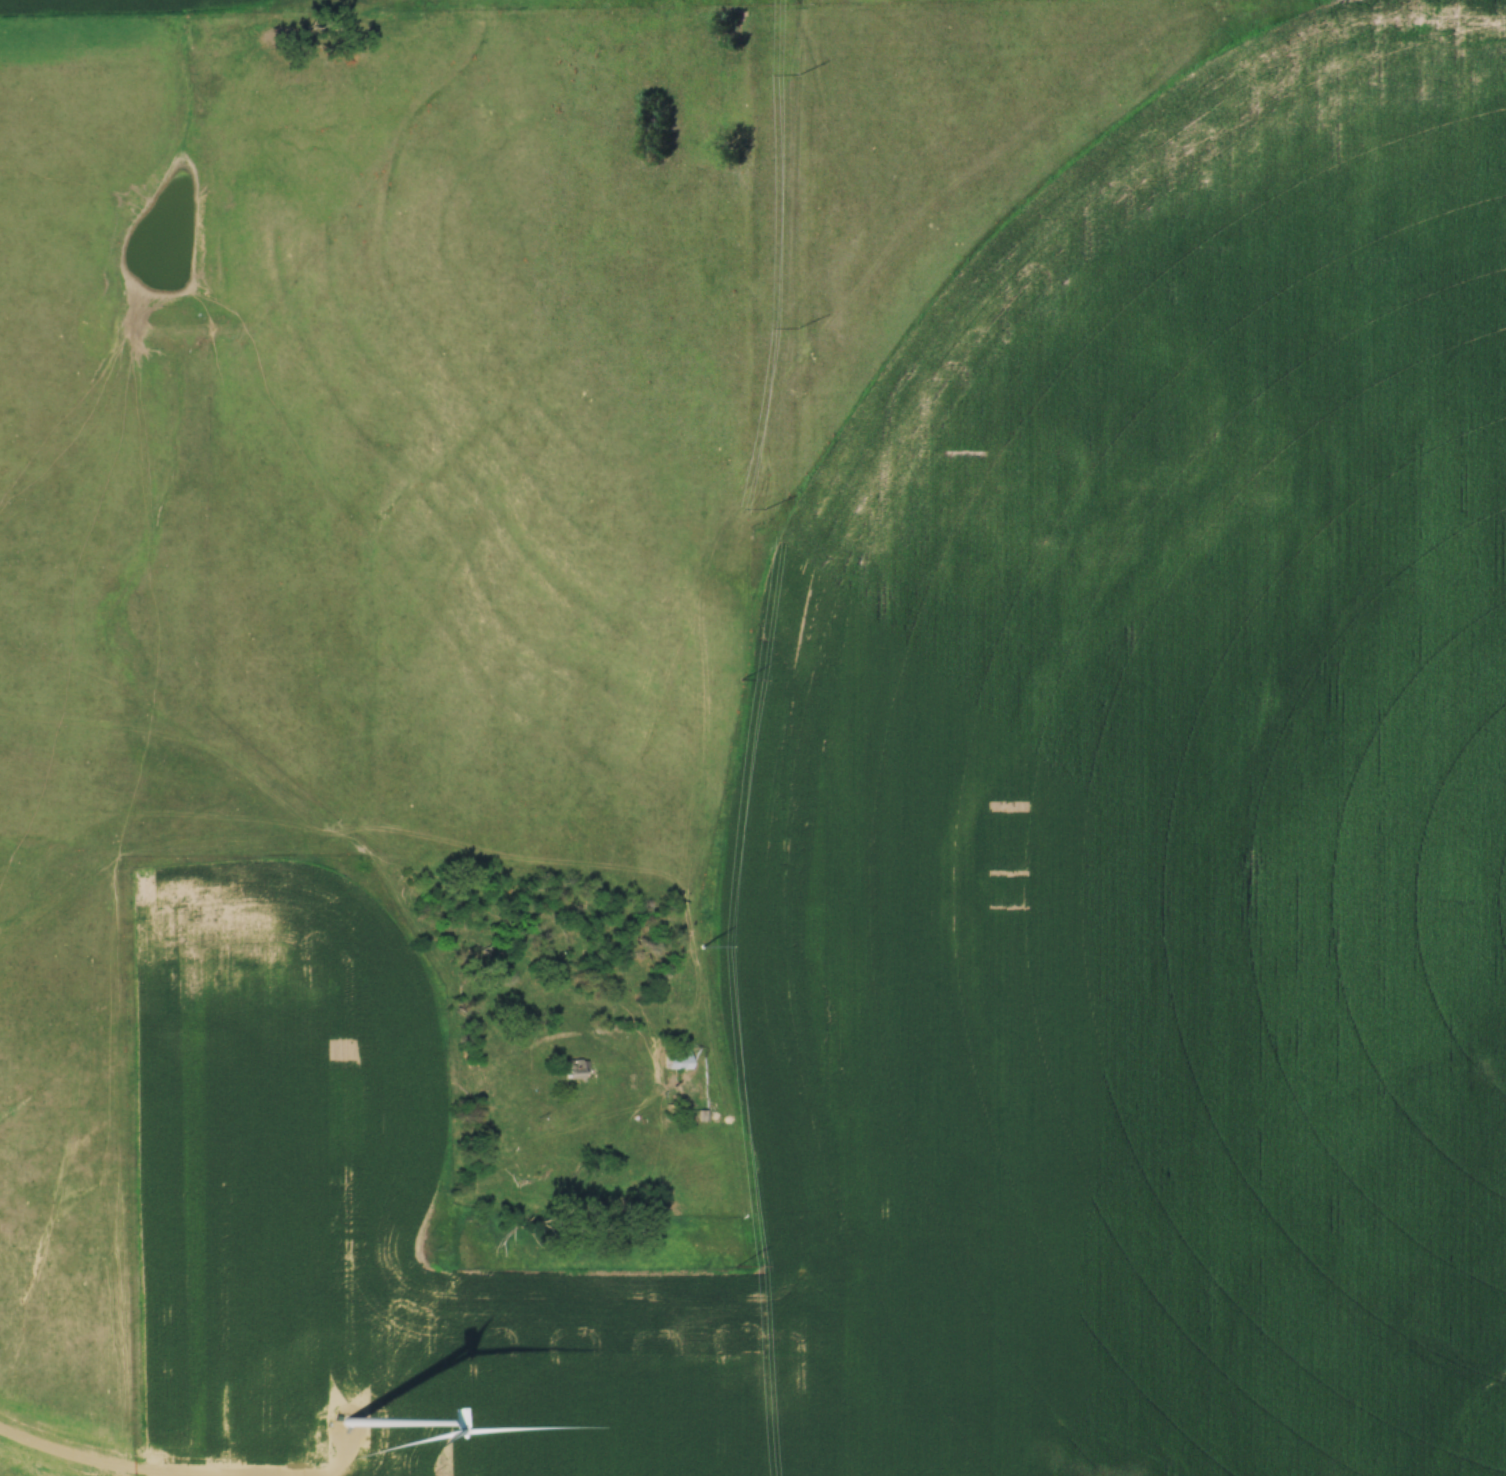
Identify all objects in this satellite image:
building: (670, 1059)
building: (569, 1068)
wind turbine: (348, 1421)

